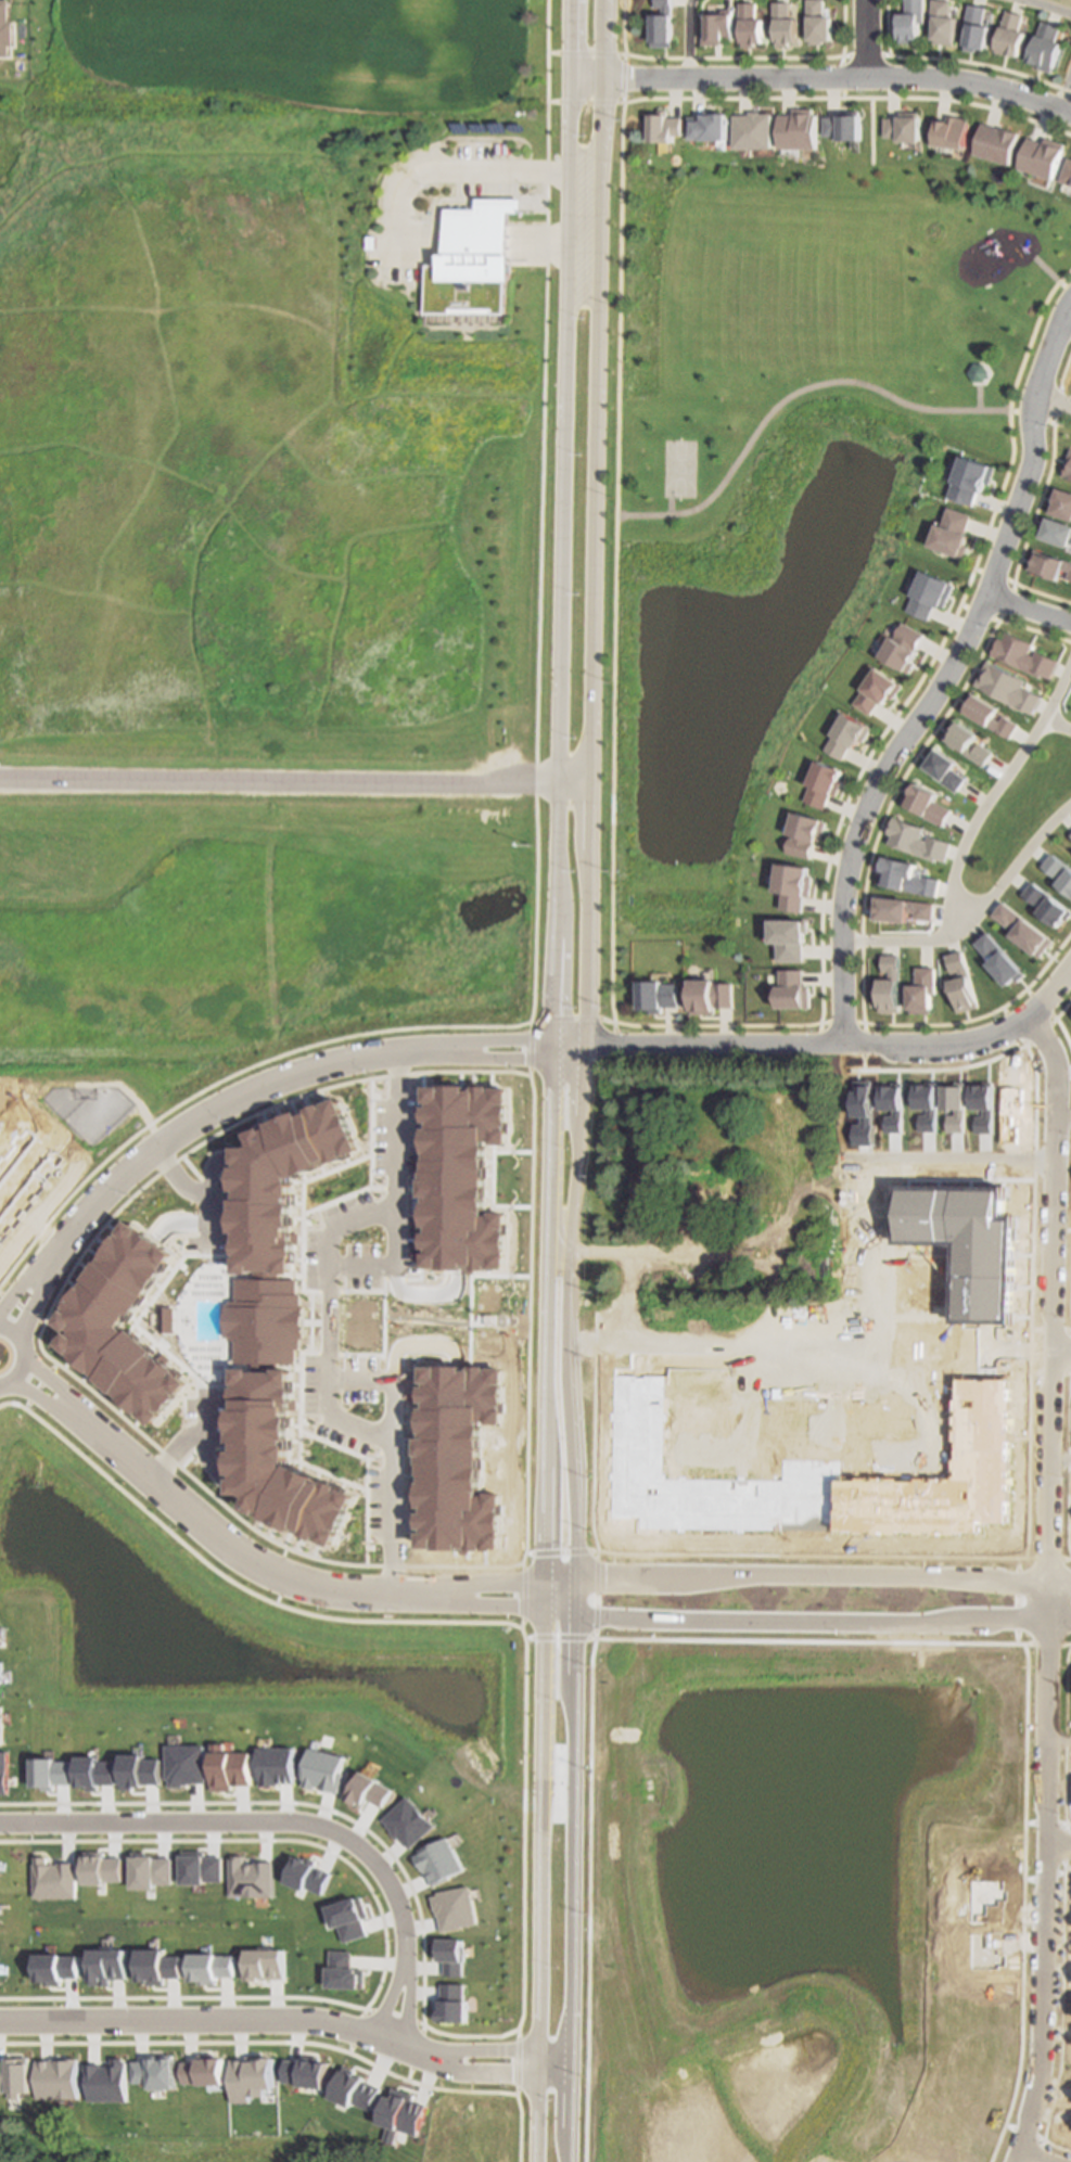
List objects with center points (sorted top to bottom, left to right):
road: (1047, 7)
building: (818, 23)
building: (913, 23)
building: (946, 23)
building: (662, 26)
building: (750, 26)
building: (785, 26)
building: (4, 27)
road: (625, 27)
road: (885, 28)
building: (981, 28)
building: (718, 29)
road: (841, 29)
building: (1016, 35)
road: (683, 37)
road: (859, 37)
building: (1048, 49)
road: (585, 53)
road: (864, 56)
road: (738, 60)
road: (977, 65)
road: (820, 74)
road: (624, 78)
road: (839, 79)
road: (850, 100)
road: (1066, 100)
road: (584, 102)
building: (710, 126)
building: (842, 126)
building: (664, 127)
building: (904, 127)
building: (798, 129)
building: (752, 131)
building: (953, 132)
road: (869, 133)
building: (999, 143)
building: (1046, 157)
road: (469, 169)
parking lot: (479, 174)
building: (1068, 174)
building: (468, 264)
road: (1047, 268)
road: (1064, 286)
road: (1068, 318)
road: (1064, 373)
road: (792, 394)
road: (979, 397)
road: (1054, 400)
road: (1058, 401)
road: (1030, 415)
road: (1059, 426)
building: (1068, 466)
park: (680, 468)
park: (770, 478)
building: (971, 478)
road: (1040, 499)
building: (1062, 501)
road: (671, 504)
building: (1058, 529)
building: (954, 532)
building: (1049, 563)
road: (619, 571)
building: (1070, 575)
road: (993, 577)
building: (931, 593)
road: (1041, 596)
road: (1008, 601)
road: (1030, 609)
road: (979, 614)
road: (1035, 629)
building: (905, 647)
road: (936, 653)
building: (1024, 654)
road: (949, 674)
building: (1008, 686)
road: (560, 688)
building: (878, 689)
building: (990, 713)
road: (1057, 725)
building: (847, 733)
building: (970, 741)
building: (946, 769)
road: (294, 781)
building: (824, 783)
road: (995, 789)
building: (928, 804)
road: (890, 805)
road: (588, 807)
park: (1019, 810)
road: (536, 814)
building: (805, 833)
building: (919, 840)
building: (1059, 870)
building: (907, 877)
building: (793, 884)
building: (1047, 904)
building: (901, 908)
road: (973, 910)
building: (1023, 929)
building: (788, 937)
building: (998, 959)
building: (888, 983)
building: (960, 983)
building: (791, 988)
building: (920, 989)
building: (656, 995)
building: (707, 995)
road: (577, 1015)
road: (967, 1020)
road: (721, 1024)
road: (862, 1028)
road: (844, 1039)
road: (938, 1067)
road: (283, 1083)
road: (1063, 1114)
road: (879, 1156)
building: (467, 1181)
road: (195, 1193)
building: (697, 1206)
building: (970, 1240)
road: (394, 1262)
road: (1031, 1277)
park: (1061, 1277)
building: (776, 1285)
road: (17, 1289)
road: (421, 1290)
road: (38, 1304)
road: (386, 1321)
building: (170, 1322)
road: (335, 1322)
building: (283, 1323)
road: (716, 1323)
building: (129, 1328)
road: (993, 1338)
road: (415, 1340)
road: (865, 1349)
road: (1022, 1351)
road: (1061, 1351)
road: (28, 1355)
road: (993, 1363)
building: (694, 1368)
road: (59, 1380)
road: (391, 1380)
road: (47, 1397)
building: (613, 1430)
road: (1059, 1457)
building: (463, 1459)
building: (812, 1474)
road: (234, 1549)
road: (798, 1553)
road: (823, 1576)
road: (505, 1584)
road: (1046, 1587)
road: (1017, 1598)
road: (503, 1608)
road: (823, 1620)
building: (3, 1633)
road: (798, 1640)
building: (1, 1672)
building: (0, 1725)
road: (590, 1736)
road: (1058, 1741)
building: (187, 1764)
building: (277, 1765)
building: (230, 1768)
road: (544, 1768)
building: (323, 1770)
building: (3, 1771)
building: (141, 1771)
building: (52, 1773)
building: (97, 1773)
building: (369, 1791)
road: (244, 1822)
building: (408, 1822)
road: (1058, 1843)
building: (438, 1860)
building: (104, 1868)
building: (202, 1868)
building: (153, 1870)
building: (309, 1875)
building: (252, 1877)
building: (55, 1879)
road: (522, 1884)
road: (569, 1886)
road: (1024, 1904)
building: (454, 1908)
building: (349, 1918)
building: (255, 1943)
building: (449, 1956)
building: (267, 1963)
building: (110, 1966)
building: (161, 1967)
building: (214, 1967)
building: (58, 1968)
building: (342, 1971)
road: (262, 1996)
road: (371, 1997)
road: (387, 1997)
road: (407, 2000)
building: (450, 2003)
road: (421, 2013)
road: (217, 2017)
building: (166, 2035)
road: (263, 2042)
building: (18, 2048)
road: (497, 2049)
road: (496, 2070)
building: (156, 2071)
building: (204, 2071)
building: (305, 2072)
building: (13, 2075)
building: (251, 2077)
building: (55, 2078)
building: (105, 2081)
building: (353, 2089)
building: (399, 2114)
park: (164, 2149)
building: (207, 2151)
road: (1040, 2154)

